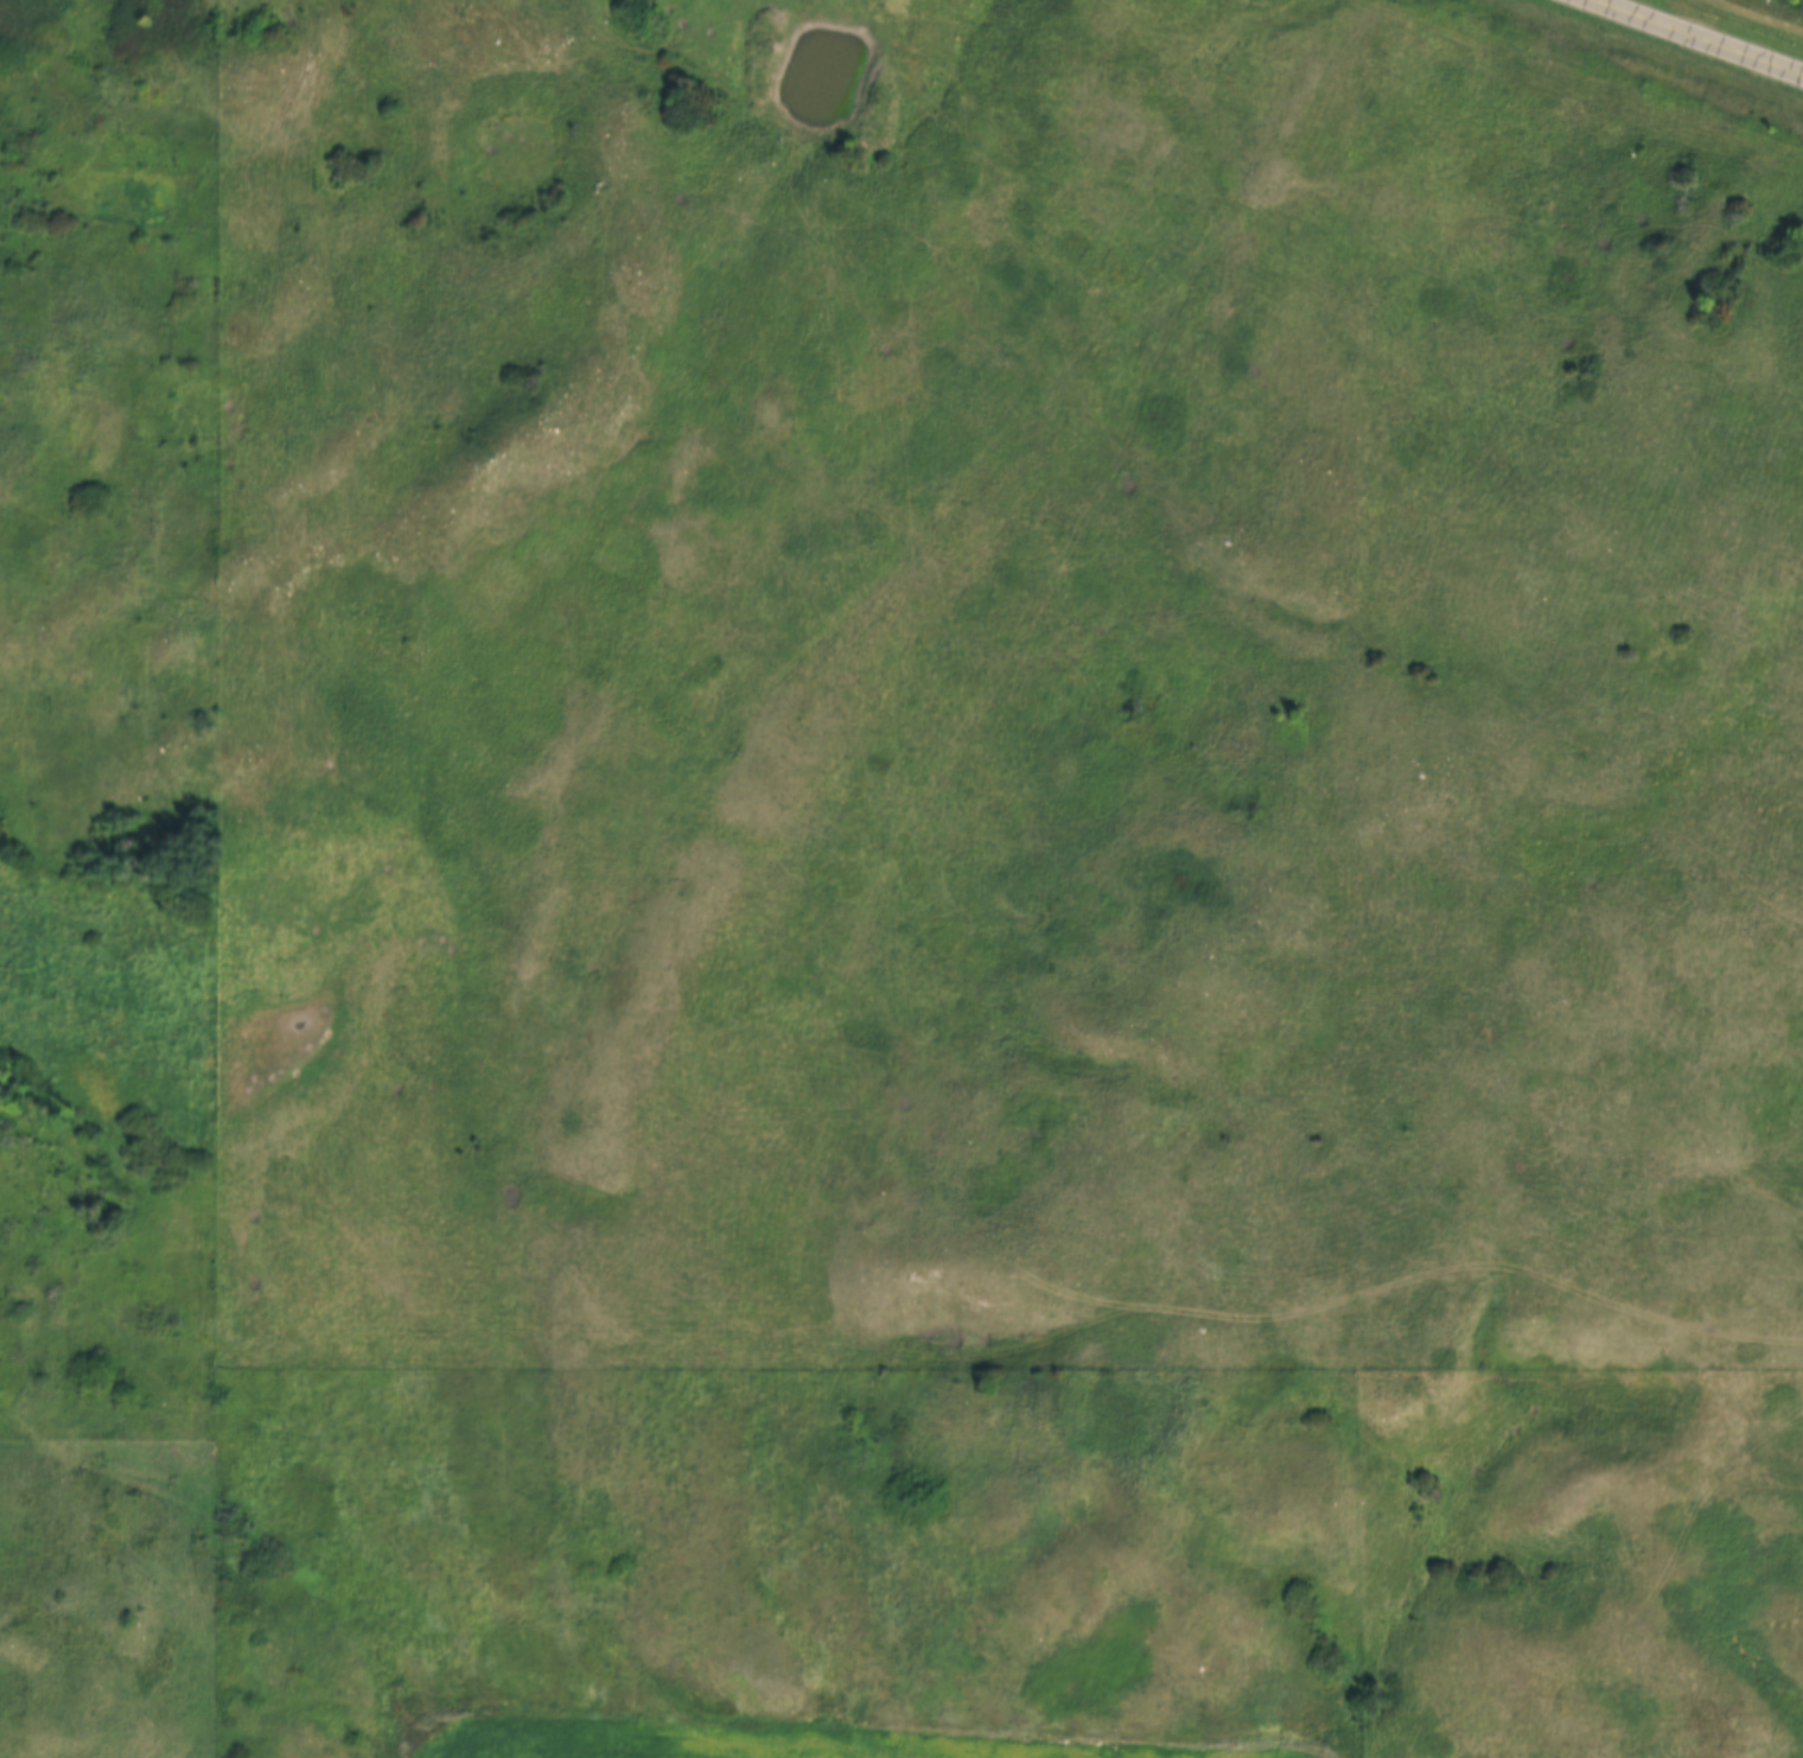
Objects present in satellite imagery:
road: (1706, 34)

